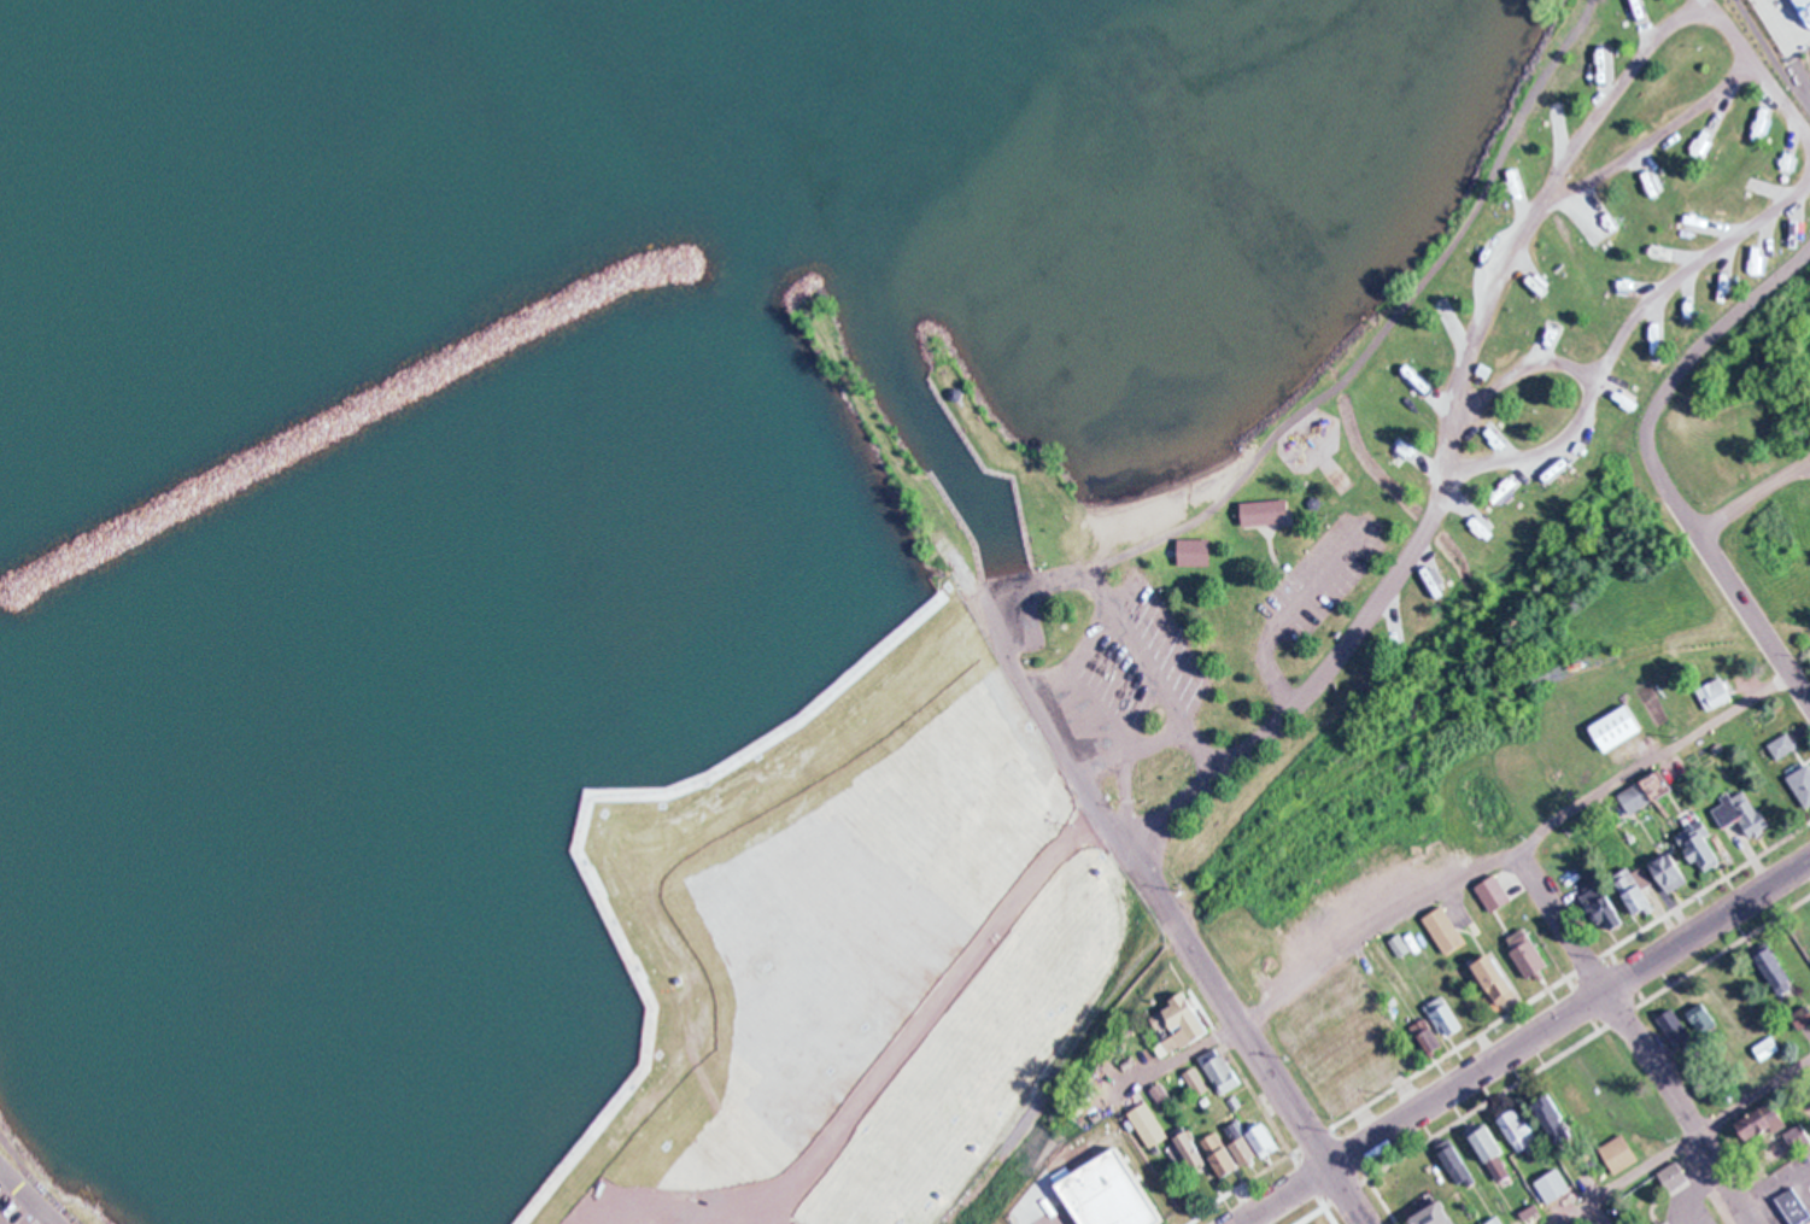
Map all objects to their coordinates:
road: (1770, 48)
building: (1605, 53)
road: (1803, 72)
road: (1781, 98)
building: (1563, 113)
park: (1408, 200)
road: (1495, 292)
road: (1619, 328)
road: (1355, 365)
road: (1677, 369)
road: (1517, 374)
building: (955, 394)
park: (1430, 458)
road: (1803, 469)
road: (1753, 494)
building: (1265, 513)
building: (1194, 551)
parking lot: (1320, 578)
road: (1281, 609)
road: (1752, 616)
park: (1794, 633)
road: (1132, 634)
building: (1392, 634)
parking lot: (1115, 685)
building: (1715, 693)
road: (1111, 718)
building: (1617, 727)
building: (1782, 745)
road: (1130, 746)
building: (1802, 784)
building: (1647, 792)
building: (743, 796)
road: (584, 807)
building: (1739, 814)
building: (744, 845)
building: (1700, 847)
building: (1669, 872)
road: (1138, 874)
building: (1635, 888)
building: (766, 890)
road: (1460, 890)
building: (1493, 892)
building: (1603, 908)
building: (1443, 927)
building: (1399, 945)
building: (1527, 953)
building: (1773, 970)
building: (1495, 979)
building: (1445, 1015)
building: (1802, 1017)
road: (1500, 1018)
building: (1701, 1018)
road: (919, 1021)
building: (1179, 1024)
building: (1674, 1026)
building: (1427, 1036)
road: (1635, 1039)
road: (1524, 1041)
building: (1765, 1048)
road: (1550, 1059)
building: (1219, 1070)
building: (1195, 1082)
building: (1160, 1093)
building: (1553, 1119)
building: (1761, 1121)
building: (1149, 1124)
building: (1517, 1129)
road: (1278, 1131)
building: (1799, 1134)
road: (1683, 1146)
building: (1240, 1147)
building: (1190, 1148)
building: (1489, 1152)
building: (1618, 1154)
building: (1454, 1162)
building: (1674, 1176)
building: (1552, 1185)
road: (1373, 1188)
road: (1689, 1189)
park: (41, 1191)
road: (30, 1193)
building: (1101, 1193)
road: (1348, 1194)
building: (1790, 1203)
parking lot: (13, 1210)
building: (1434, 1216)
building: (1535, 1216)
building: (1493, 1222)
building: (1499, 1222)
building: (1576, 1223)

